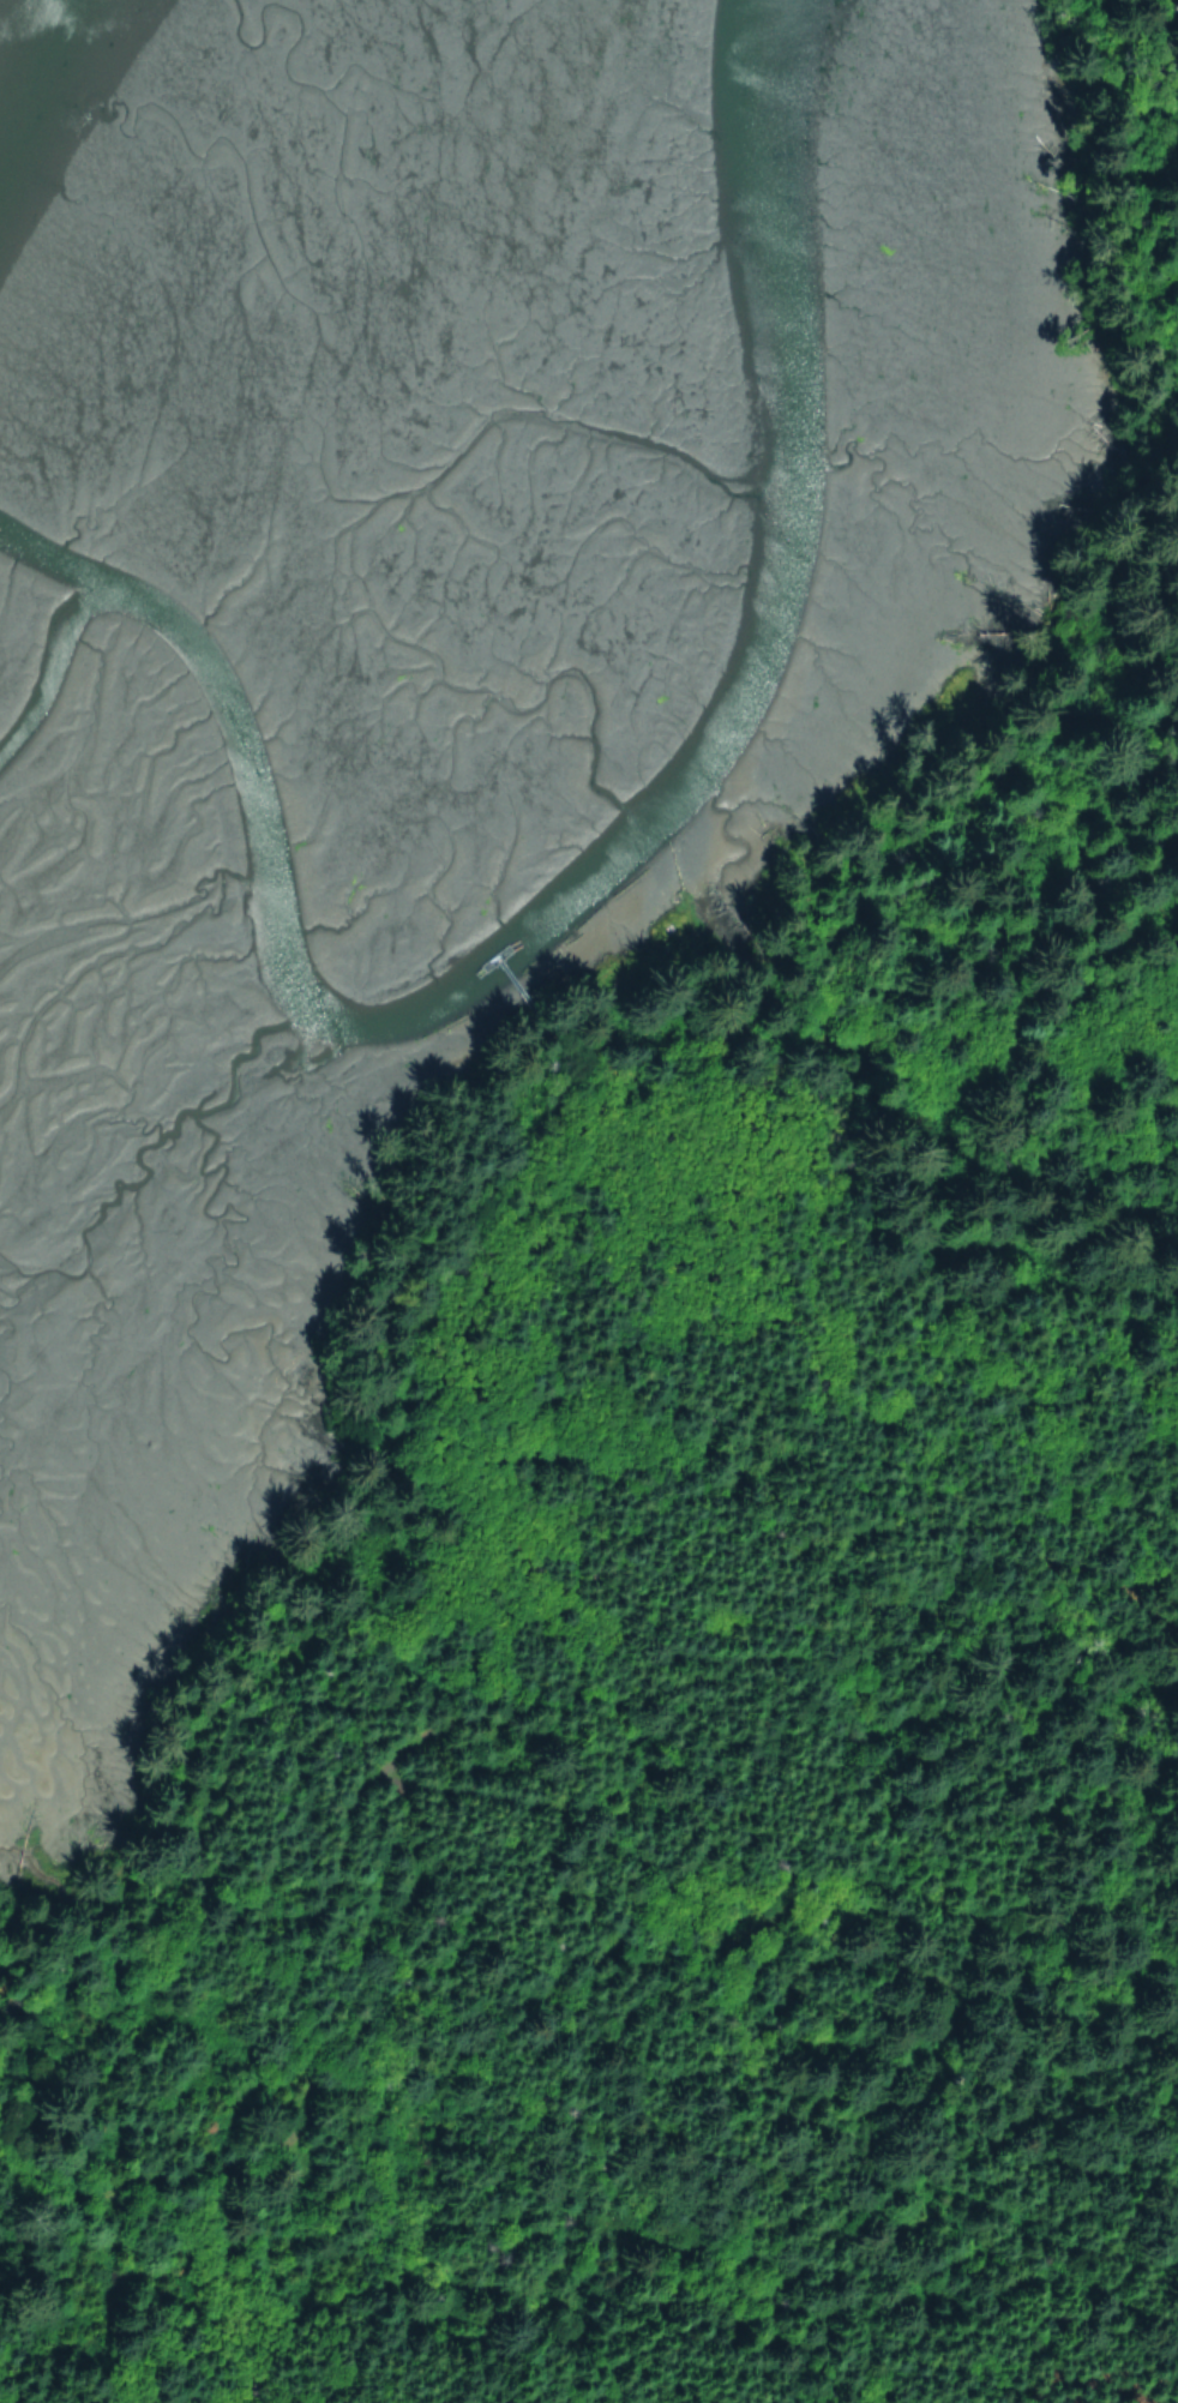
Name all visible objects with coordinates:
road: (469, 1456)
road: (1150, 1480)

